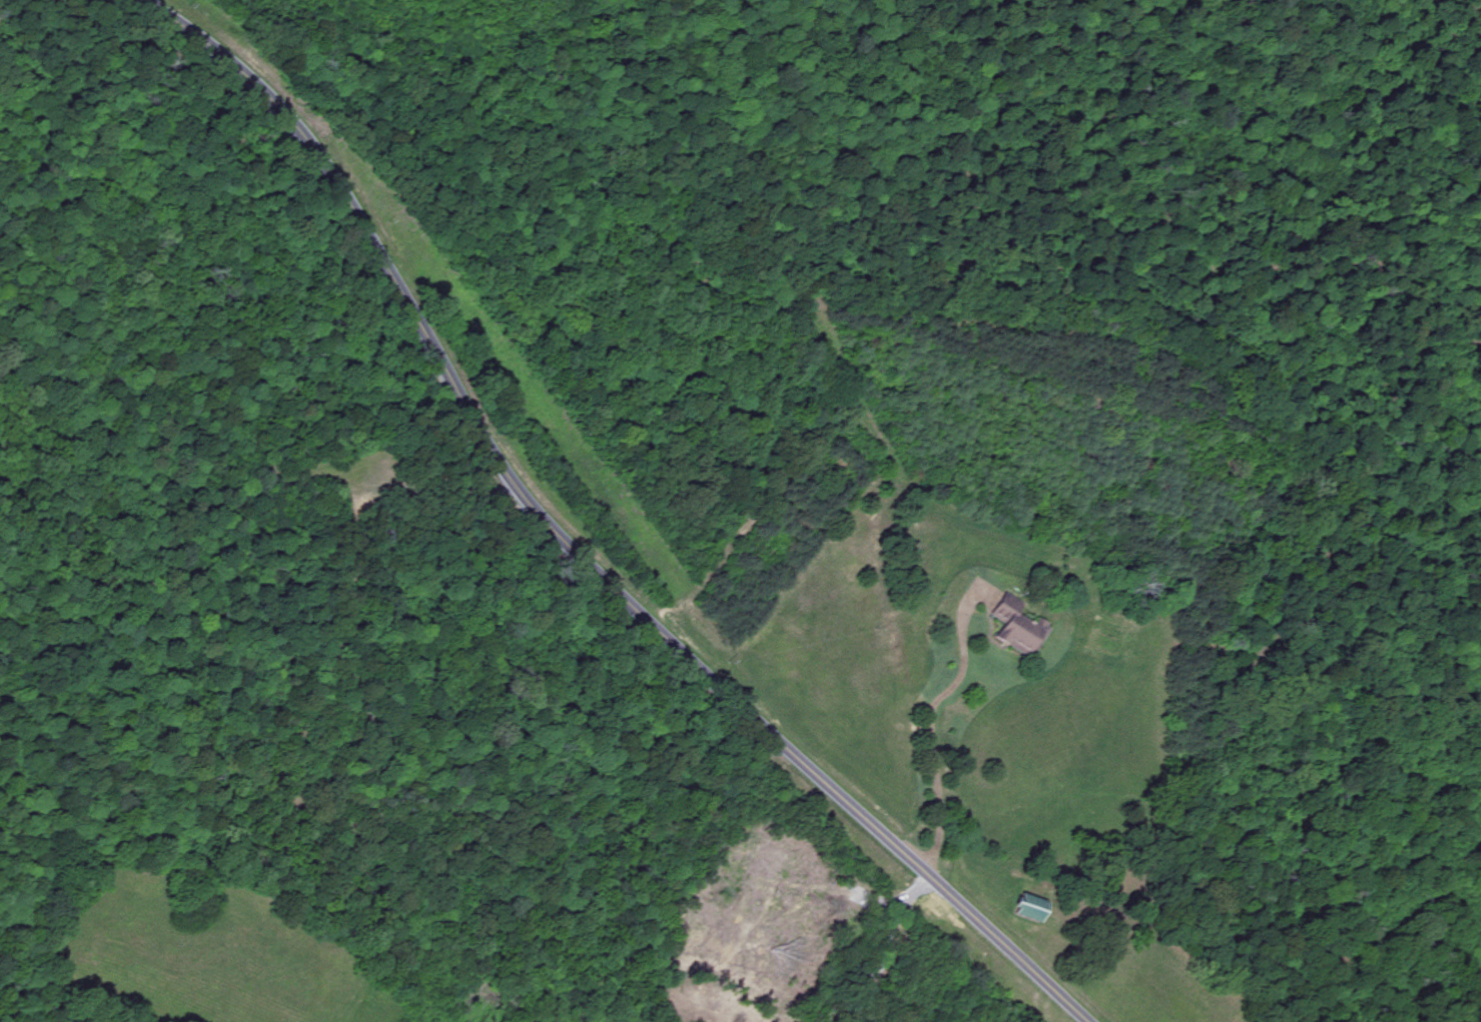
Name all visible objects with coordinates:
road: (569, 545)
building: (1022, 634)
road: (952, 798)

